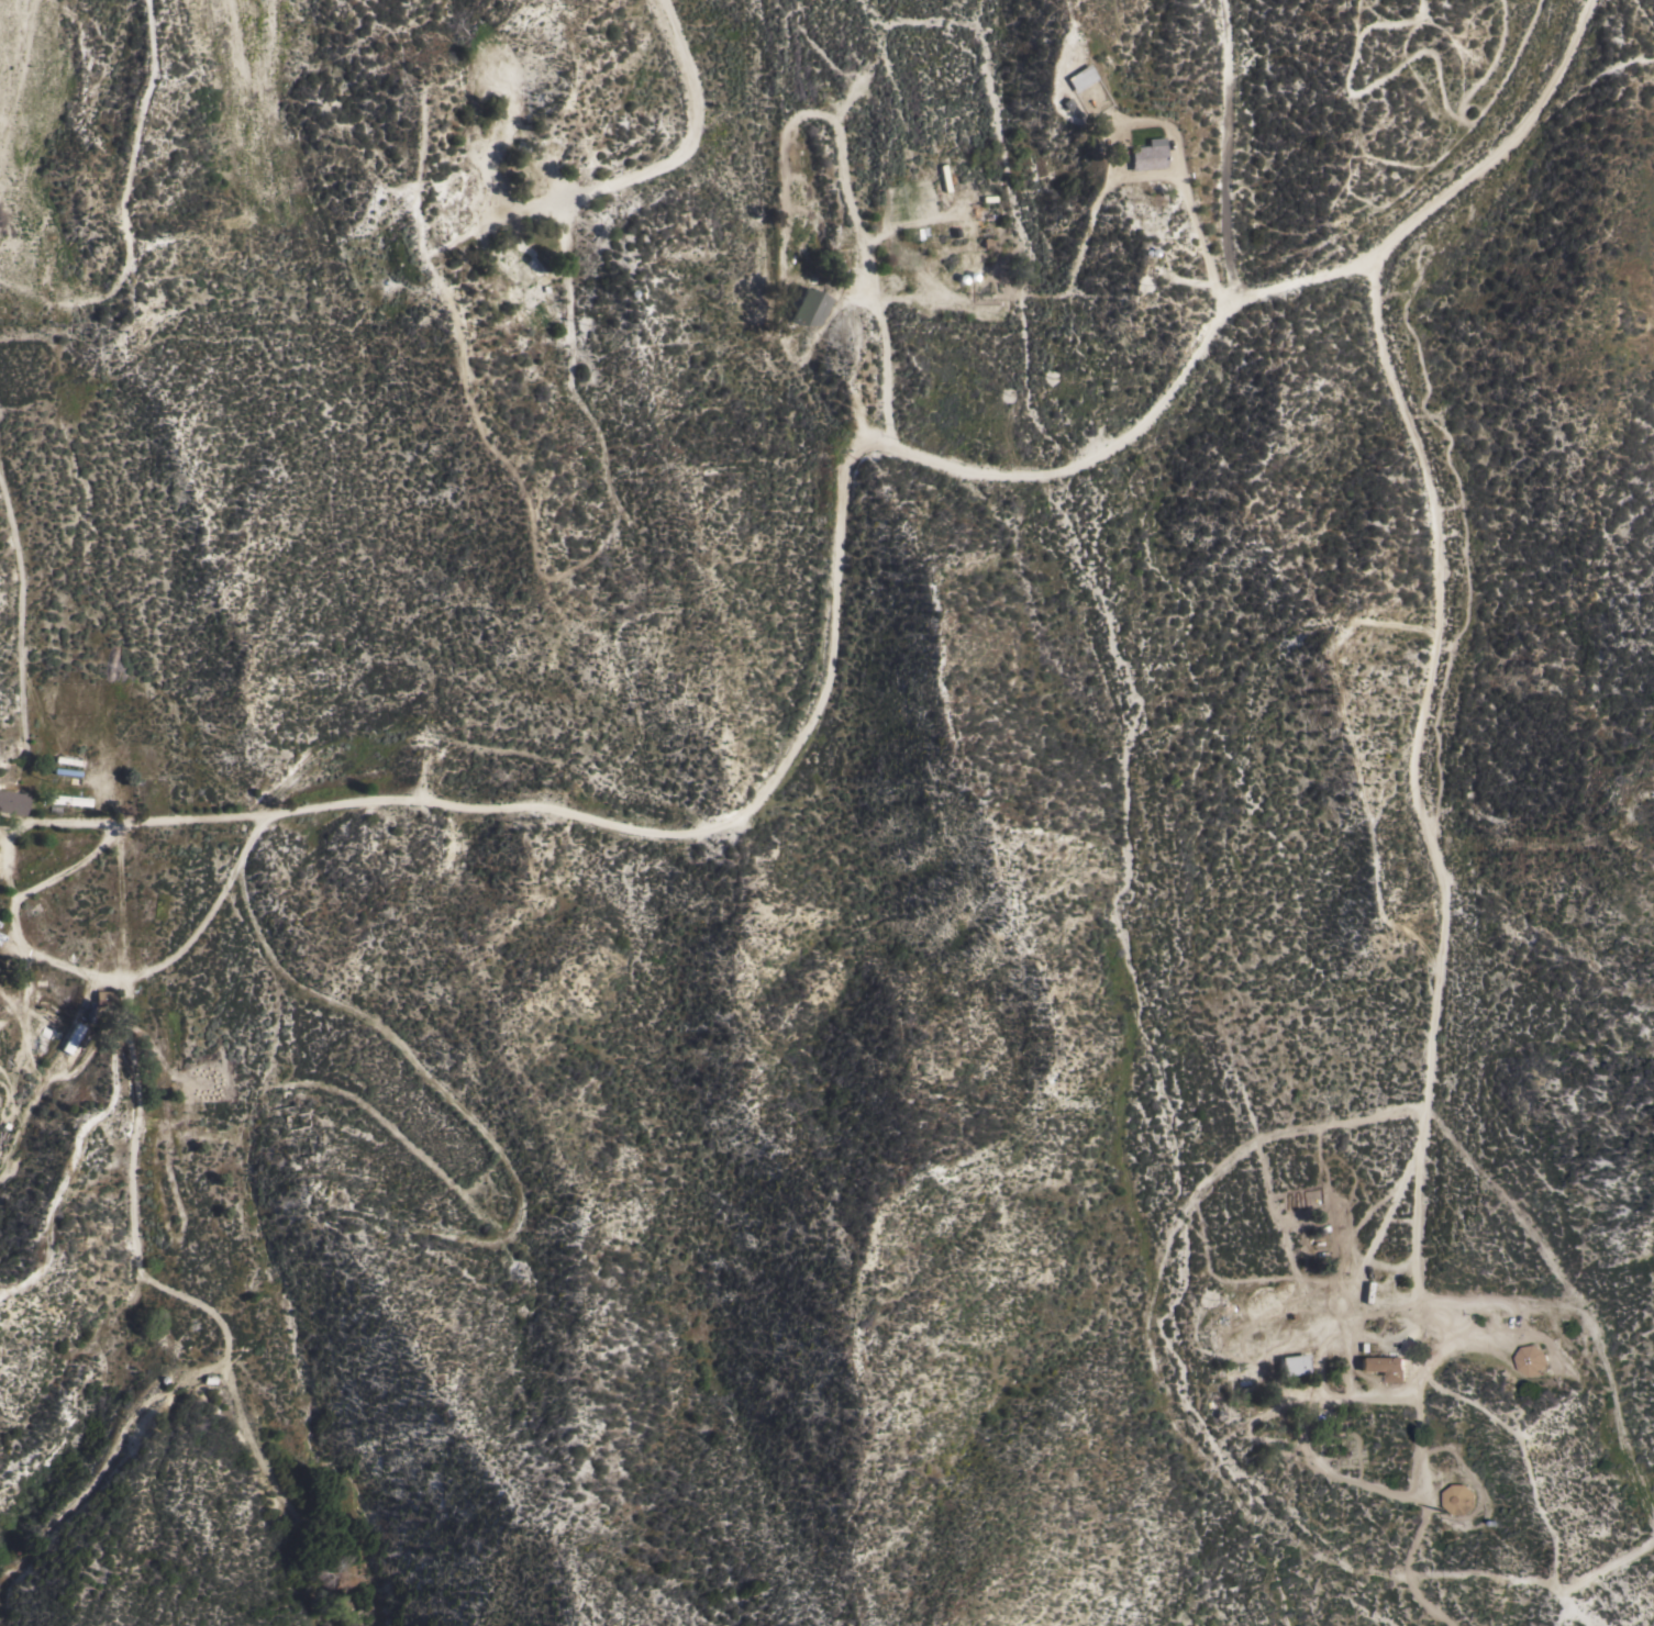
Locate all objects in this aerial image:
road: (16, 75)
building: (1073, 78)
road: (692, 125)
road: (1225, 152)
building: (1146, 155)
building: (544, 166)
road: (1194, 220)
building: (974, 256)
building: (525, 258)
road: (122, 265)
building: (532, 305)
building: (811, 305)
road: (888, 361)
road: (847, 480)
road: (20, 610)
building: (12, 803)
road: (1421, 818)
road: (32, 825)
road: (24, 895)
building: (75, 1040)
road: (138, 1129)
road: (1374, 1244)
building: (1531, 1360)
building: (1294, 1366)
building: (1386, 1368)
building: (1242, 1372)
building: (1458, 1500)

